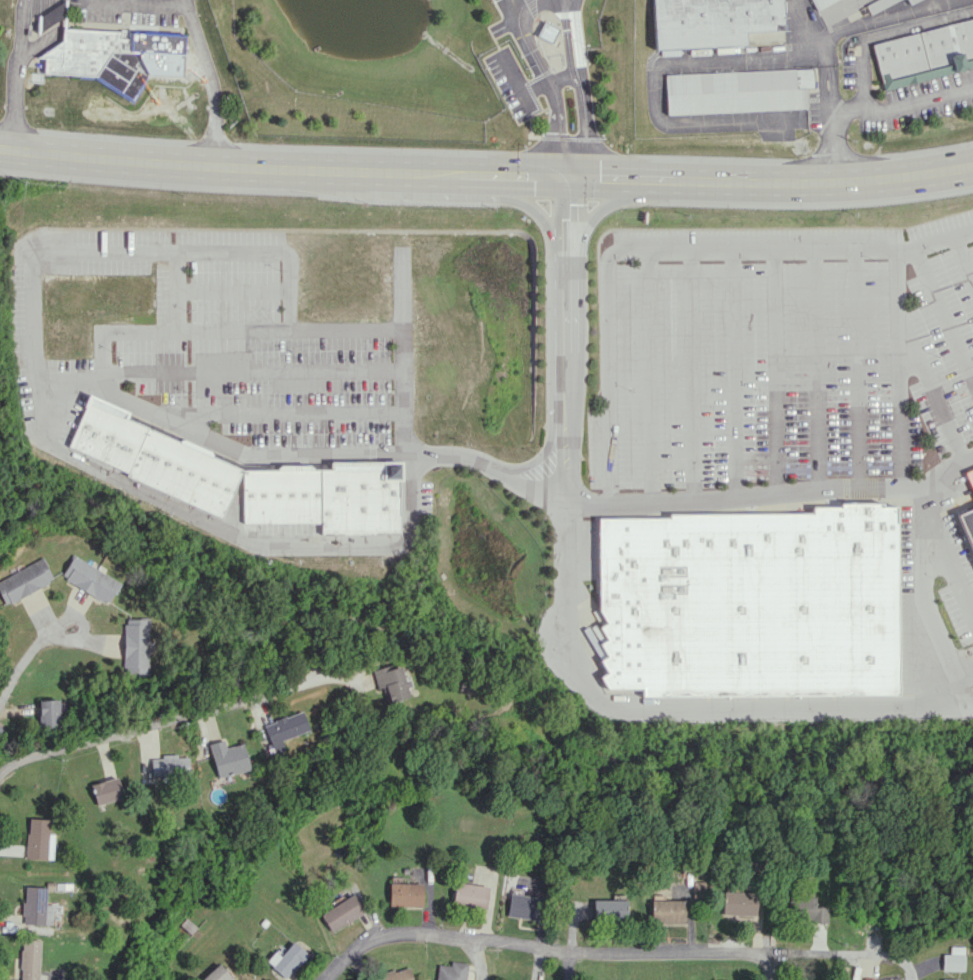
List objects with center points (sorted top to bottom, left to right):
road: (530, 0)
building: (910, 0)
road: (129, 3)
building: (822, 3)
road: (185, 4)
building: (878, 4)
road: (506, 5)
road: (521, 5)
road: (134, 6)
building: (712, 21)
road: (853, 26)
road: (519, 30)
building: (547, 31)
building: (926, 53)
building: (111, 56)
road: (749, 57)
road: (15, 74)
road: (547, 81)
road: (515, 82)
road: (210, 85)
building: (738, 89)
road: (581, 91)
road: (530, 93)
road: (901, 103)
road: (555, 112)
road: (699, 123)
road: (829, 123)
road: (529, 129)
road: (569, 137)
road: (486, 173)
road: (564, 245)
road: (665, 248)
road: (185, 251)
road: (965, 253)
road: (944, 310)
building: (615, 325)
road: (178, 329)
road: (404, 354)
building: (673, 360)
road: (855, 366)
road: (900, 366)
road: (816, 368)
road: (777, 370)
road: (735, 372)
road: (695, 374)
road: (649, 376)
road: (932, 398)
road: (141, 408)
road: (282, 413)
building: (150, 457)
building: (969, 478)
building: (326, 498)
road: (612, 506)
building: (966, 528)
road: (215, 530)
road: (932, 559)
building: (88, 579)
building: (23, 581)
building: (744, 606)
building: (593, 631)
road: (922, 631)
building: (135, 645)
road: (29, 655)
building: (389, 682)
road: (677, 711)
building: (48, 713)
road: (167, 719)
building: (284, 729)
building: (228, 758)
building: (168, 765)
road: (2, 770)
building: (106, 790)
building: (38, 839)
building: (697, 887)
building: (405, 894)
building: (469, 894)
building: (741, 902)
building: (522, 905)
building: (36, 906)
building: (608, 909)
building: (805, 909)
building: (667, 911)
building: (341, 912)
road: (541, 944)
road: (854, 957)
building: (29, 959)
building: (286, 959)
building: (953, 959)
road: (567, 963)
road: (775, 968)
building: (451, 971)
building: (217, 973)
building: (393, 975)
building: (947, 979)

